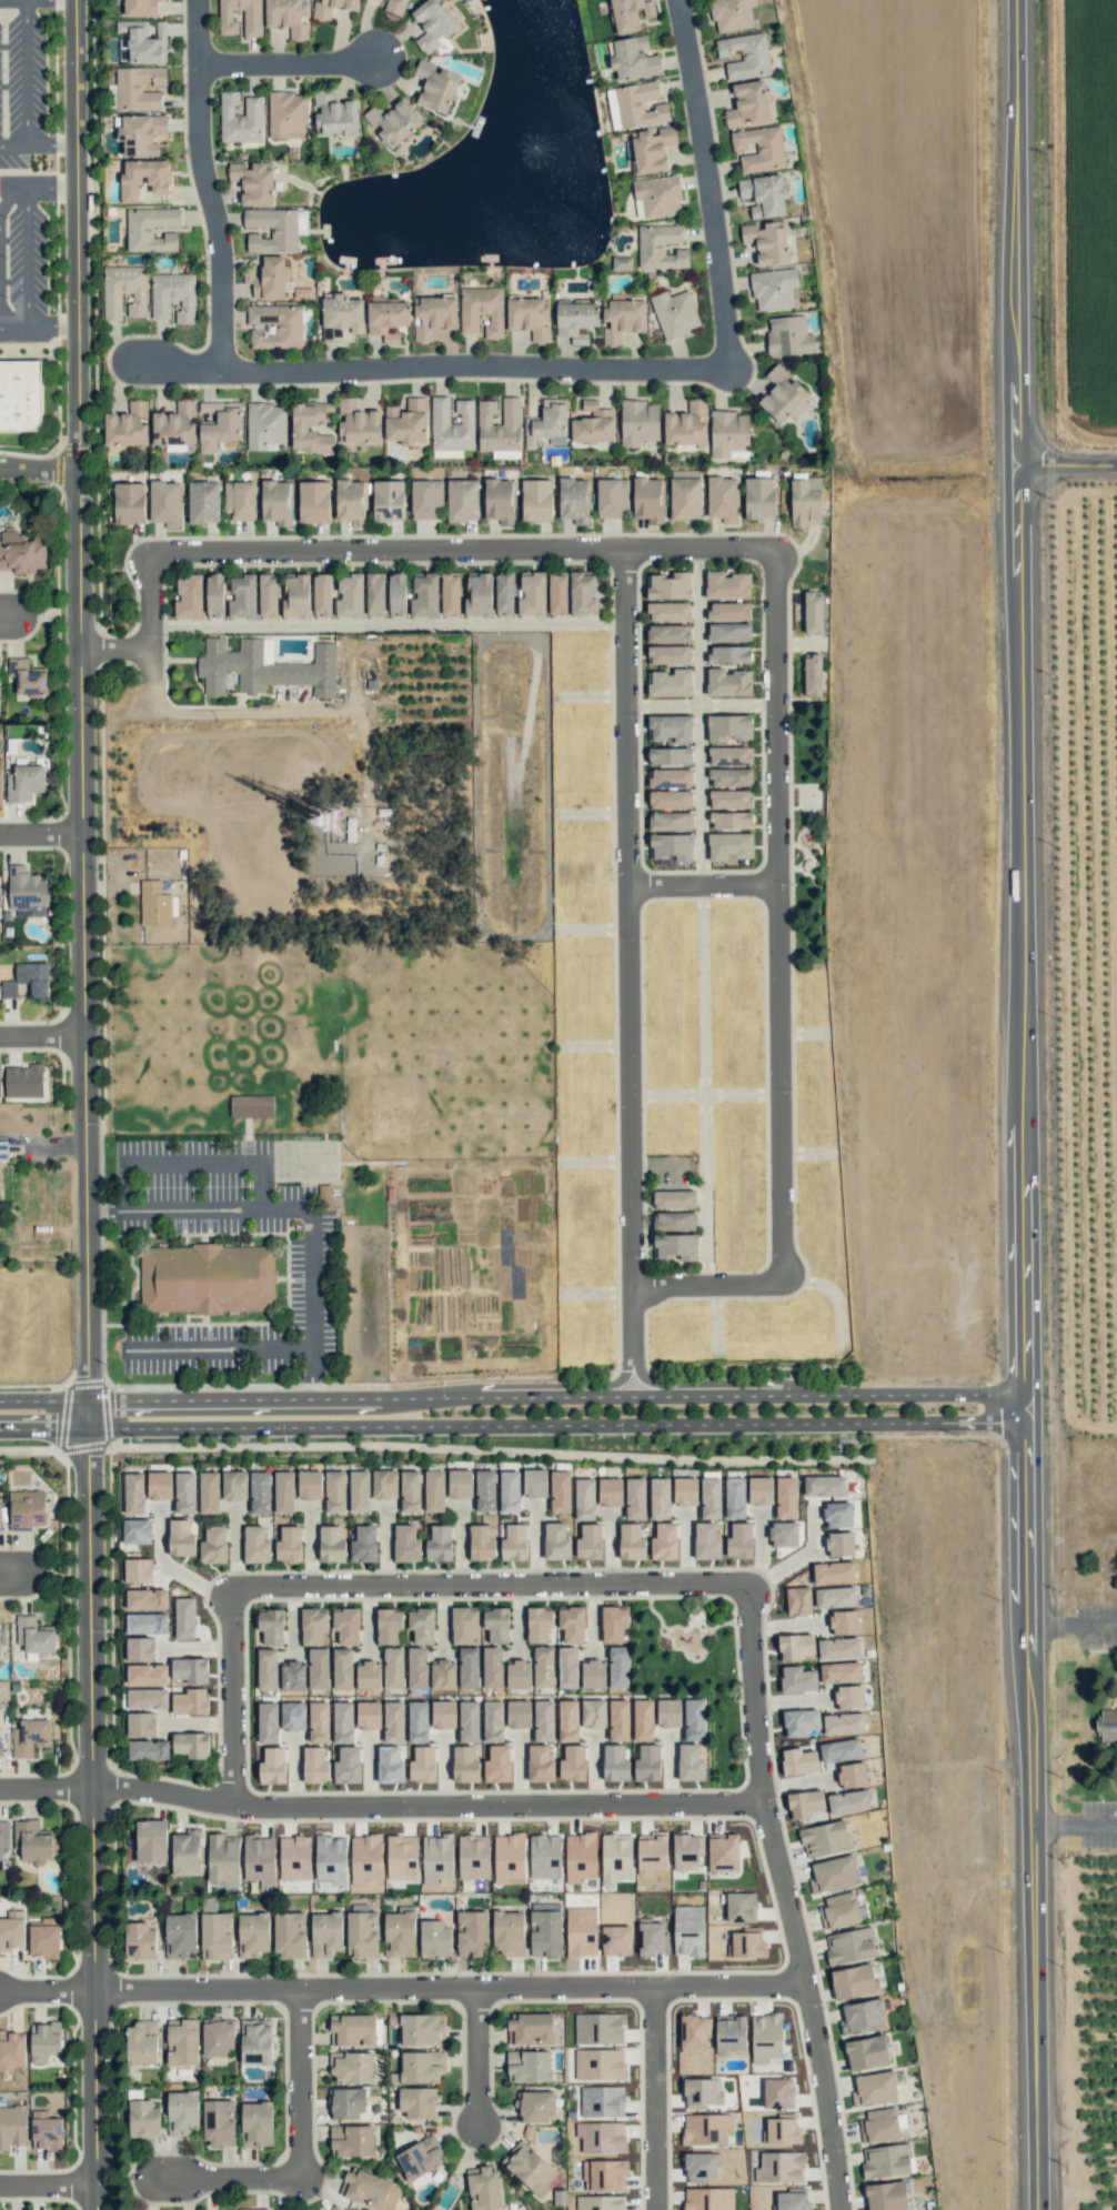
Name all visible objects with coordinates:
building: (379, 0)
building: (395, 7)
building: (140, 8)
building: (331, 8)
building: (252, 14)
building: (626, 14)
building: (732, 14)
building: (289, 17)
building: (433, 23)
building: (142, 42)
building: (745, 56)
building: (633, 58)
road: (289, 63)
road: (28, 73)
building: (435, 86)
building: (138, 88)
building: (747, 104)
building: (635, 106)
building: (334, 113)
building: (288, 114)
building: (241, 118)
building: (393, 122)
road: (41, 148)
building: (652, 149)
building: (759, 149)
parking lot: (28, 172)
building: (143, 179)
building: (253, 182)
road: (40, 183)
road: (708, 183)
road: (208, 185)
building: (764, 194)
building: (656, 197)
building: (151, 229)
building: (272, 229)
building: (767, 241)
building: (661, 247)
road: (57, 253)
road: (31, 255)
building: (622, 262)
building: (774, 289)
building: (123, 291)
building: (172, 295)
building: (482, 310)
building: (674, 313)
building: (434, 315)
building: (342, 317)
building: (530, 317)
building: (386, 318)
building: (576, 319)
building: (622, 319)
building: (289, 325)
road: (41, 328)
building: (788, 335)
road: (476, 365)
road: (180, 372)
building: (783, 394)
building: (20, 395)
building: (406, 422)
building: (638, 422)
building: (173, 423)
building: (219, 423)
building: (358, 423)
building: (547, 423)
building: (593, 423)
building: (125, 424)
building: (265, 424)
building: (452, 424)
building: (686, 424)
building: (500, 425)
building: (311, 426)
building: (728, 433)
building: (446, 453)
building: (505, 454)
road: (1069, 464)
road: (42, 470)
building: (612, 496)
building: (759, 498)
building: (239, 499)
building: (426, 499)
building: (648, 499)
building: (723, 499)
building: (389, 500)
building: (462, 500)
building: (500, 500)
building: (536, 500)
building: (574, 500)
building: (203, 501)
building: (351, 501)
building: (129, 502)
building: (164, 502)
building: (275, 502)
building: (314, 502)
building: (806, 502)
building: (21, 552)
road: (460, 555)
building: (668, 585)
building: (727, 585)
building: (504, 593)
building: (557, 593)
building: (374, 594)
building: (396, 594)
building: (450, 594)
building: (479, 594)
building: (532, 594)
building: (583, 594)
building: (214, 595)
building: (268, 595)
building: (296, 595)
building: (322, 595)
building: (425, 595)
building: (350, 596)
building: (189, 597)
building: (242, 597)
road: (147, 604)
building: (668, 611)
building: (728, 611)
building: (813, 613)
road: (11, 616)
road: (383, 624)
road: (700, 629)
building: (728, 632)
building: (668, 633)
road: (115, 647)
building: (668, 654)
building: (728, 654)
building: (264, 667)
building: (813, 675)
building: (27, 677)
building: (728, 682)
building: (670, 683)
road: (661, 705)
road: (737, 705)
building: (670, 727)
building: (729, 727)
building: (729, 755)
building: (670, 756)
building: (729, 776)
building: (670, 777)
building: (0, 783)
building: (24, 783)
road: (701, 794)
building: (670, 798)
building: (731, 798)
building: (731, 820)
building: (670, 821)
road: (44, 835)
building: (672, 846)
building: (731, 846)
road: (700, 883)
building: (27, 893)
building: (154, 904)
road: (775, 917)
road: (626, 974)
building: (28, 980)
road: (46, 1032)
park: (439, 1058)
building: (23, 1081)
crop: (1077, 1093)
road: (90, 1105)
road: (1023, 1105)
building: (251, 1106)
building: (3, 1151)
building: (674, 1198)
road: (293, 1208)
building: (674, 1220)
building: (676, 1246)
building: (228, 1259)
road: (705, 1286)
road: (714, 1396)
road: (203, 1400)
road: (512, 1425)
building: (535, 1483)
building: (384, 1484)
building: (460, 1484)
building: (159, 1485)
building: (234, 1485)
building: (310, 1485)
building: (824, 1486)
building: (410, 1490)
building: (434, 1490)
building: (485, 1490)
building: (759, 1490)
building: (260, 1491)
building: (283, 1491)
building: (335, 1491)
building: (359, 1491)
building: (510, 1491)
building: (560, 1491)
building: (610, 1491)
building: (685, 1491)
building: (184, 1493)
building: (209, 1493)
building: (133, 1494)
building: (735, 1497)
building: (786, 1497)
building: (635, 1498)
building: (660, 1498)
building: (711, 1498)
building: (584, 1499)
building: (28, 1508)
building: (837, 1514)
building: (0, 1518)
building: (137, 1531)
building: (784, 1534)
building: (181, 1538)
building: (739, 1540)
building: (556, 1541)
building: (590, 1541)
building: (664, 1541)
building: (706, 1541)
building: (481, 1543)
building: (514, 1543)
building: (632, 1543)
building: (289, 1544)
building: (331, 1544)
building: (363, 1544)
building: (406, 1544)
building: (439, 1544)
building: (839, 1544)
building: (213, 1545)
building: (255, 1545)
road: (793, 1560)
road: (169, 1568)
building: (138, 1570)
building: (833, 1571)
road: (16, 1574)
road: (489, 1590)
building: (835, 1597)
building: (147, 1599)
building: (798, 1601)
building: (184, 1618)
building: (147, 1623)
building: (844, 1623)
building: (496, 1624)
building: (539, 1624)
building: (572, 1624)
building: (614, 1624)
building: (421, 1625)
road: (1073, 1625)
building: (271, 1626)
building: (313, 1626)
building: (345, 1626)
building: (389, 1626)
building: (464, 1626)
building: (34, 1635)
building: (795, 1646)
building: (838, 1648)
building: (140, 1649)
building: (469, 1667)
building: (492, 1667)
building: (543, 1667)
building: (618, 1667)
building: (266, 1668)
building: (318, 1668)
building: (342, 1668)
building: (393, 1668)
building: (417, 1668)
building: (567, 1668)
building: (190, 1670)
building: (841, 1672)
building: (147, 1674)
building: (519, 1674)
building: (593, 1674)
building: (443, 1675)
building: (292, 1676)
building: (368, 1676)
building: (798, 1679)
road: (230, 1697)
road: (752, 1697)
building: (849, 1697)
building: (148, 1698)
building: (190, 1701)
building: (668, 1712)
building: (443, 1714)
building: (519, 1714)
building: (593, 1714)
building: (369, 1715)
building: (293, 1716)
building: (694, 1719)
building: (544, 1720)
building: (568, 1720)
building: (618, 1720)
building: (643, 1720)
building: (319, 1721)
building: (393, 1721)
building: (417, 1721)
building: (469, 1721)
building: (493, 1721)
building: (268, 1722)
building: (342, 1722)
building: (802, 1722)
building: (141, 1724)
building: (844, 1724)
building: (1107, 1724)
building: (30, 1736)
building: (191, 1745)
building: (0, 1747)
building: (148, 1749)
building: (841, 1750)
building: (798, 1761)
building: (615, 1762)
building: (647, 1762)
building: (691, 1762)
building: (497, 1764)
building: (540, 1764)
building: (573, 1764)
building: (315, 1765)
building: (390, 1765)
building: (422, 1765)
building: (464, 1765)
building: (272, 1766)
building: (348, 1766)
building: (853, 1775)
road: (49, 1787)
building: (848, 1801)
road: (426, 1802)
building: (805, 1802)
road: (1075, 1824)
building: (3, 1836)
building: (825, 1839)
building: (151, 1840)
building: (32, 1841)
building: (687, 1850)
building: (187, 1852)
building: (652, 1852)
building: (723, 1854)
building: (544, 1856)
building: (294, 1857)
building: (401, 1857)
building: (473, 1857)
building: (580, 1857)
building: (616, 1857)
building: (223, 1858)
building: (365, 1858)
building: (436, 1858)
building: (509, 1858)
building: (259, 1859)
building: (331, 1859)
building: (833, 1875)
building: (741, 1907)
building: (838, 1911)
building: (545, 1929)
building: (12, 1930)
building: (688, 1930)
building: (362, 1931)
building: (581, 1931)
building: (507, 1932)
building: (326, 1933)
building: (472, 1933)
building: (181, 1935)
building: (253, 1935)
building: (290, 1935)
building: (399, 1935)
building: (215, 1936)
building: (651, 1937)
building: (44, 1938)
building: (434, 1938)
building: (616, 1940)
building: (140, 1941)
building: (747, 1943)
building: (849, 1946)
building: (854, 1982)
road: (400, 1991)
road: (803, 2005)
building: (863, 2017)
building: (419, 2028)
building: (598, 2028)
building: (352, 2029)
building: (531, 2029)
building: (694, 2032)
building: (731, 2033)
building: (217, 2037)
building: (766, 2038)
building: (44, 2041)
building: (182, 2041)
building: (255, 2041)
building: (142, 2042)
building: (11, 2050)
building: (866, 2052)
road: (482, 2060)
building: (600, 2063)
building: (529, 2066)
building: (352, 2067)
building: (422, 2067)
road: (304, 2087)
building: (874, 2089)
building: (702, 2092)
building: (778, 2093)
road: (654, 2098)
building: (602, 2101)
building: (348, 2102)
building: (417, 2102)
building: (535, 2107)
building: (182, 2112)
building: (143, 2118)
building: (219, 2122)
building: (256, 2124)
building: (12, 2126)
building: (878, 2126)
building: (706, 2129)
building: (783, 2130)
building: (46, 2131)
building: (602, 2137)
building: (352, 2141)
building: (420, 2158)
building: (886, 2161)
building: (529, 2167)
building: (701, 2167)
building: (779, 2168)
building: (604, 2174)
road: (232, 2181)
road: (51, 2187)
building: (484, 2188)
building: (369, 2189)
building: (886, 2196)
building: (708, 2199)
building: (792, 2201)
building: (253, 2209)
building: (335, 2209)

